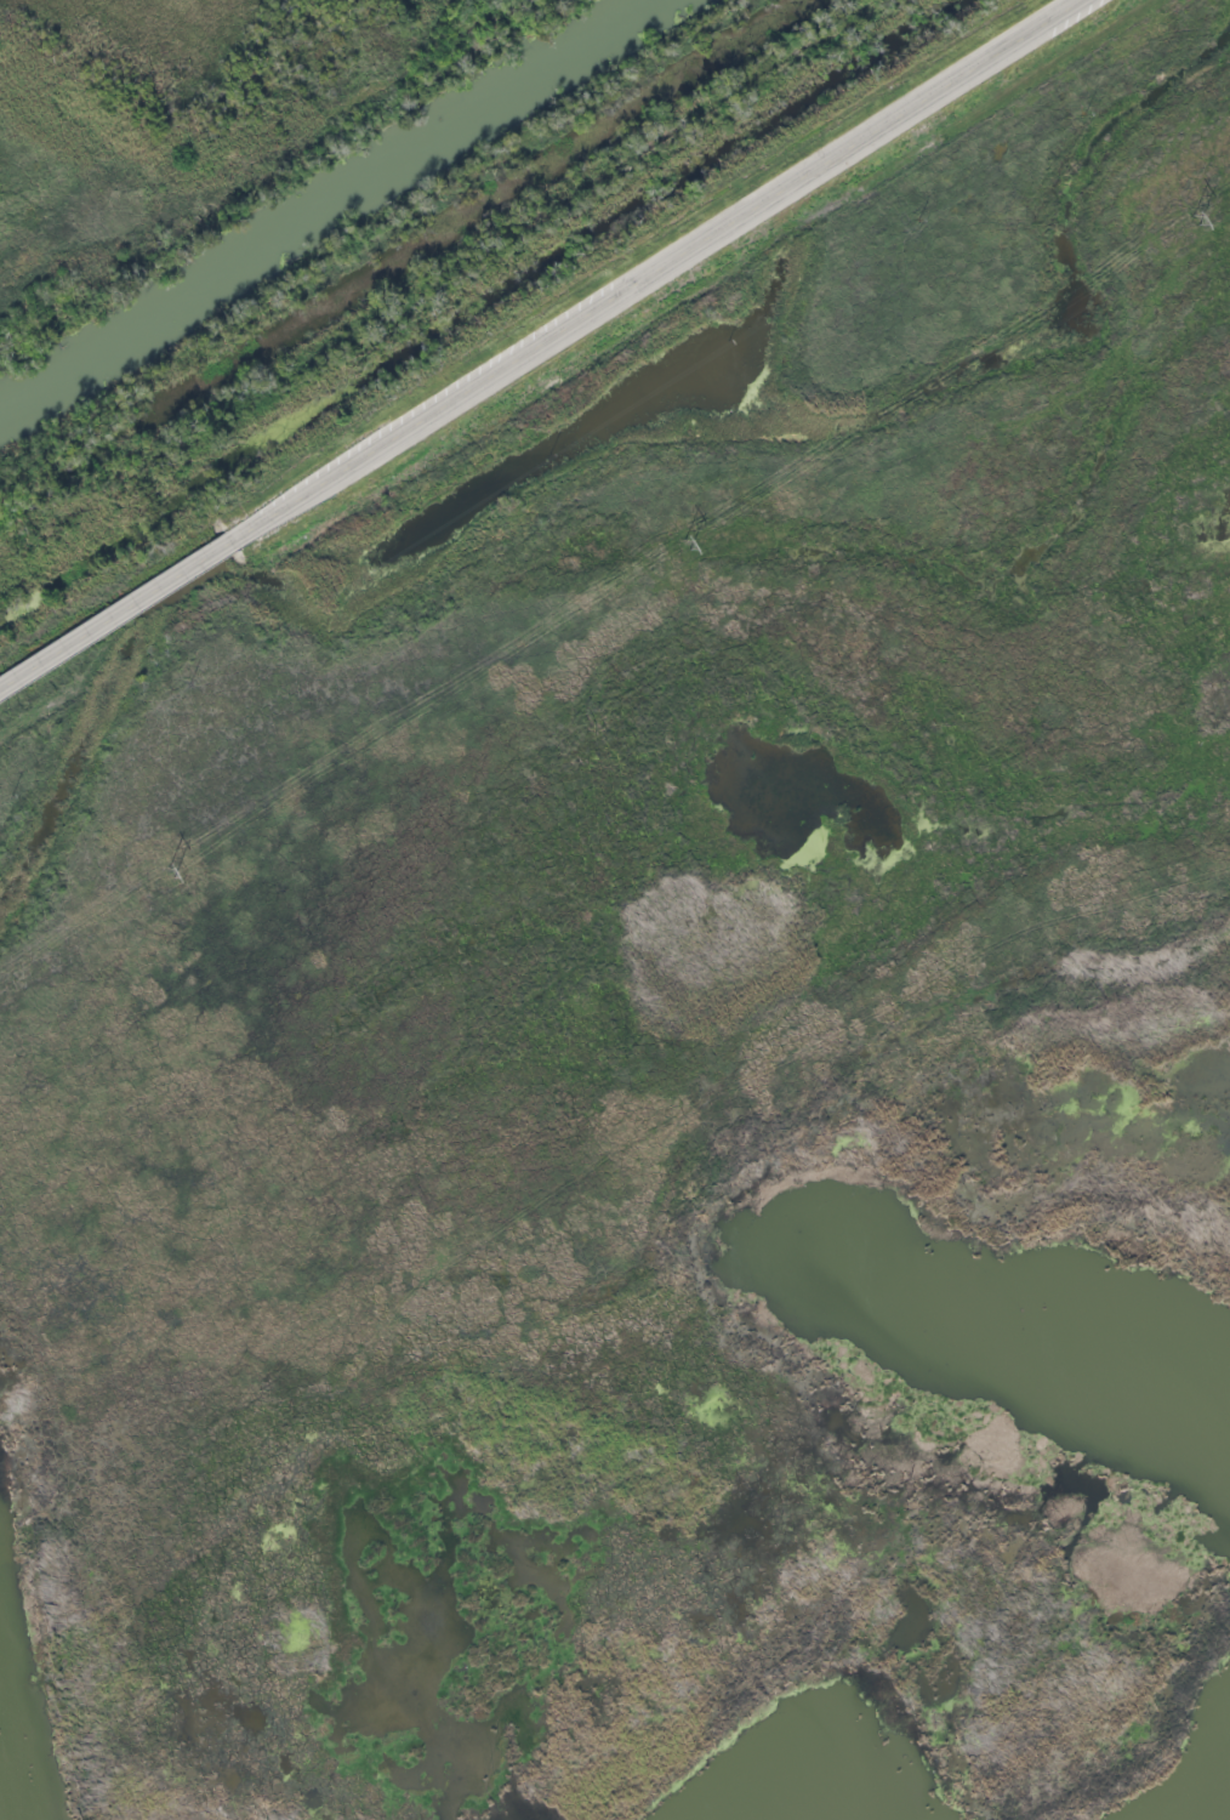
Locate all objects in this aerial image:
power tower: (1196, 220)
road: (659, 269)
power tower: (687, 546)
road: (118, 613)
power tower: (171, 874)

